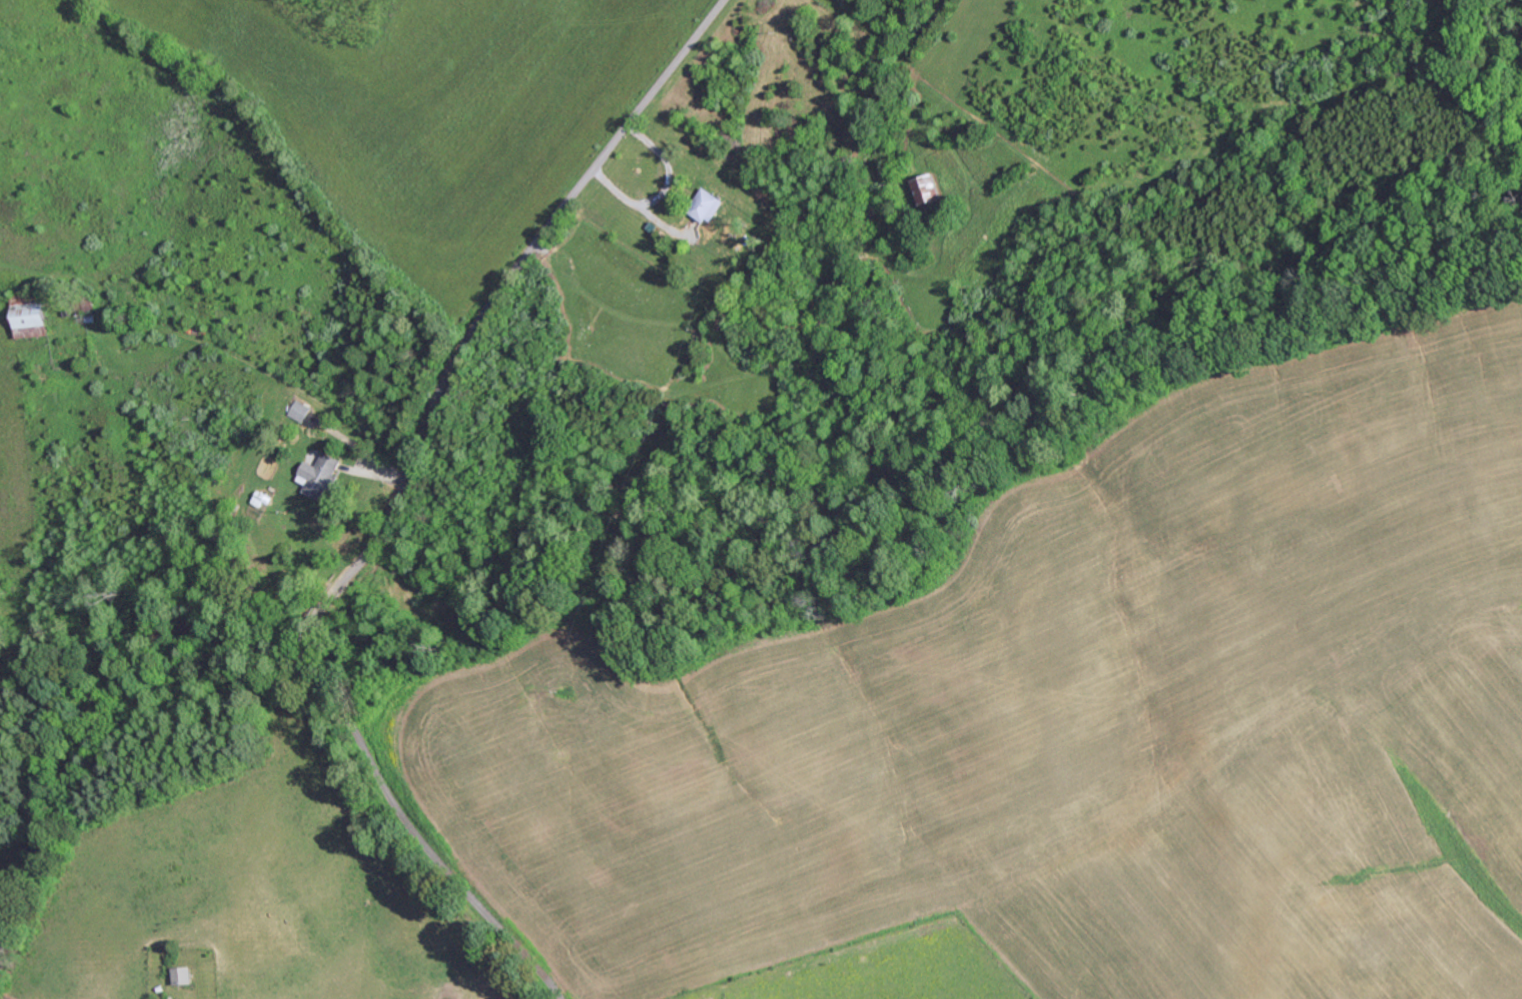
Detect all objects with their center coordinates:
building: (929, 188)
building: (710, 205)
building: (36, 319)
building: (300, 411)
building: (322, 474)
road: (395, 505)
building: (185, 975)

